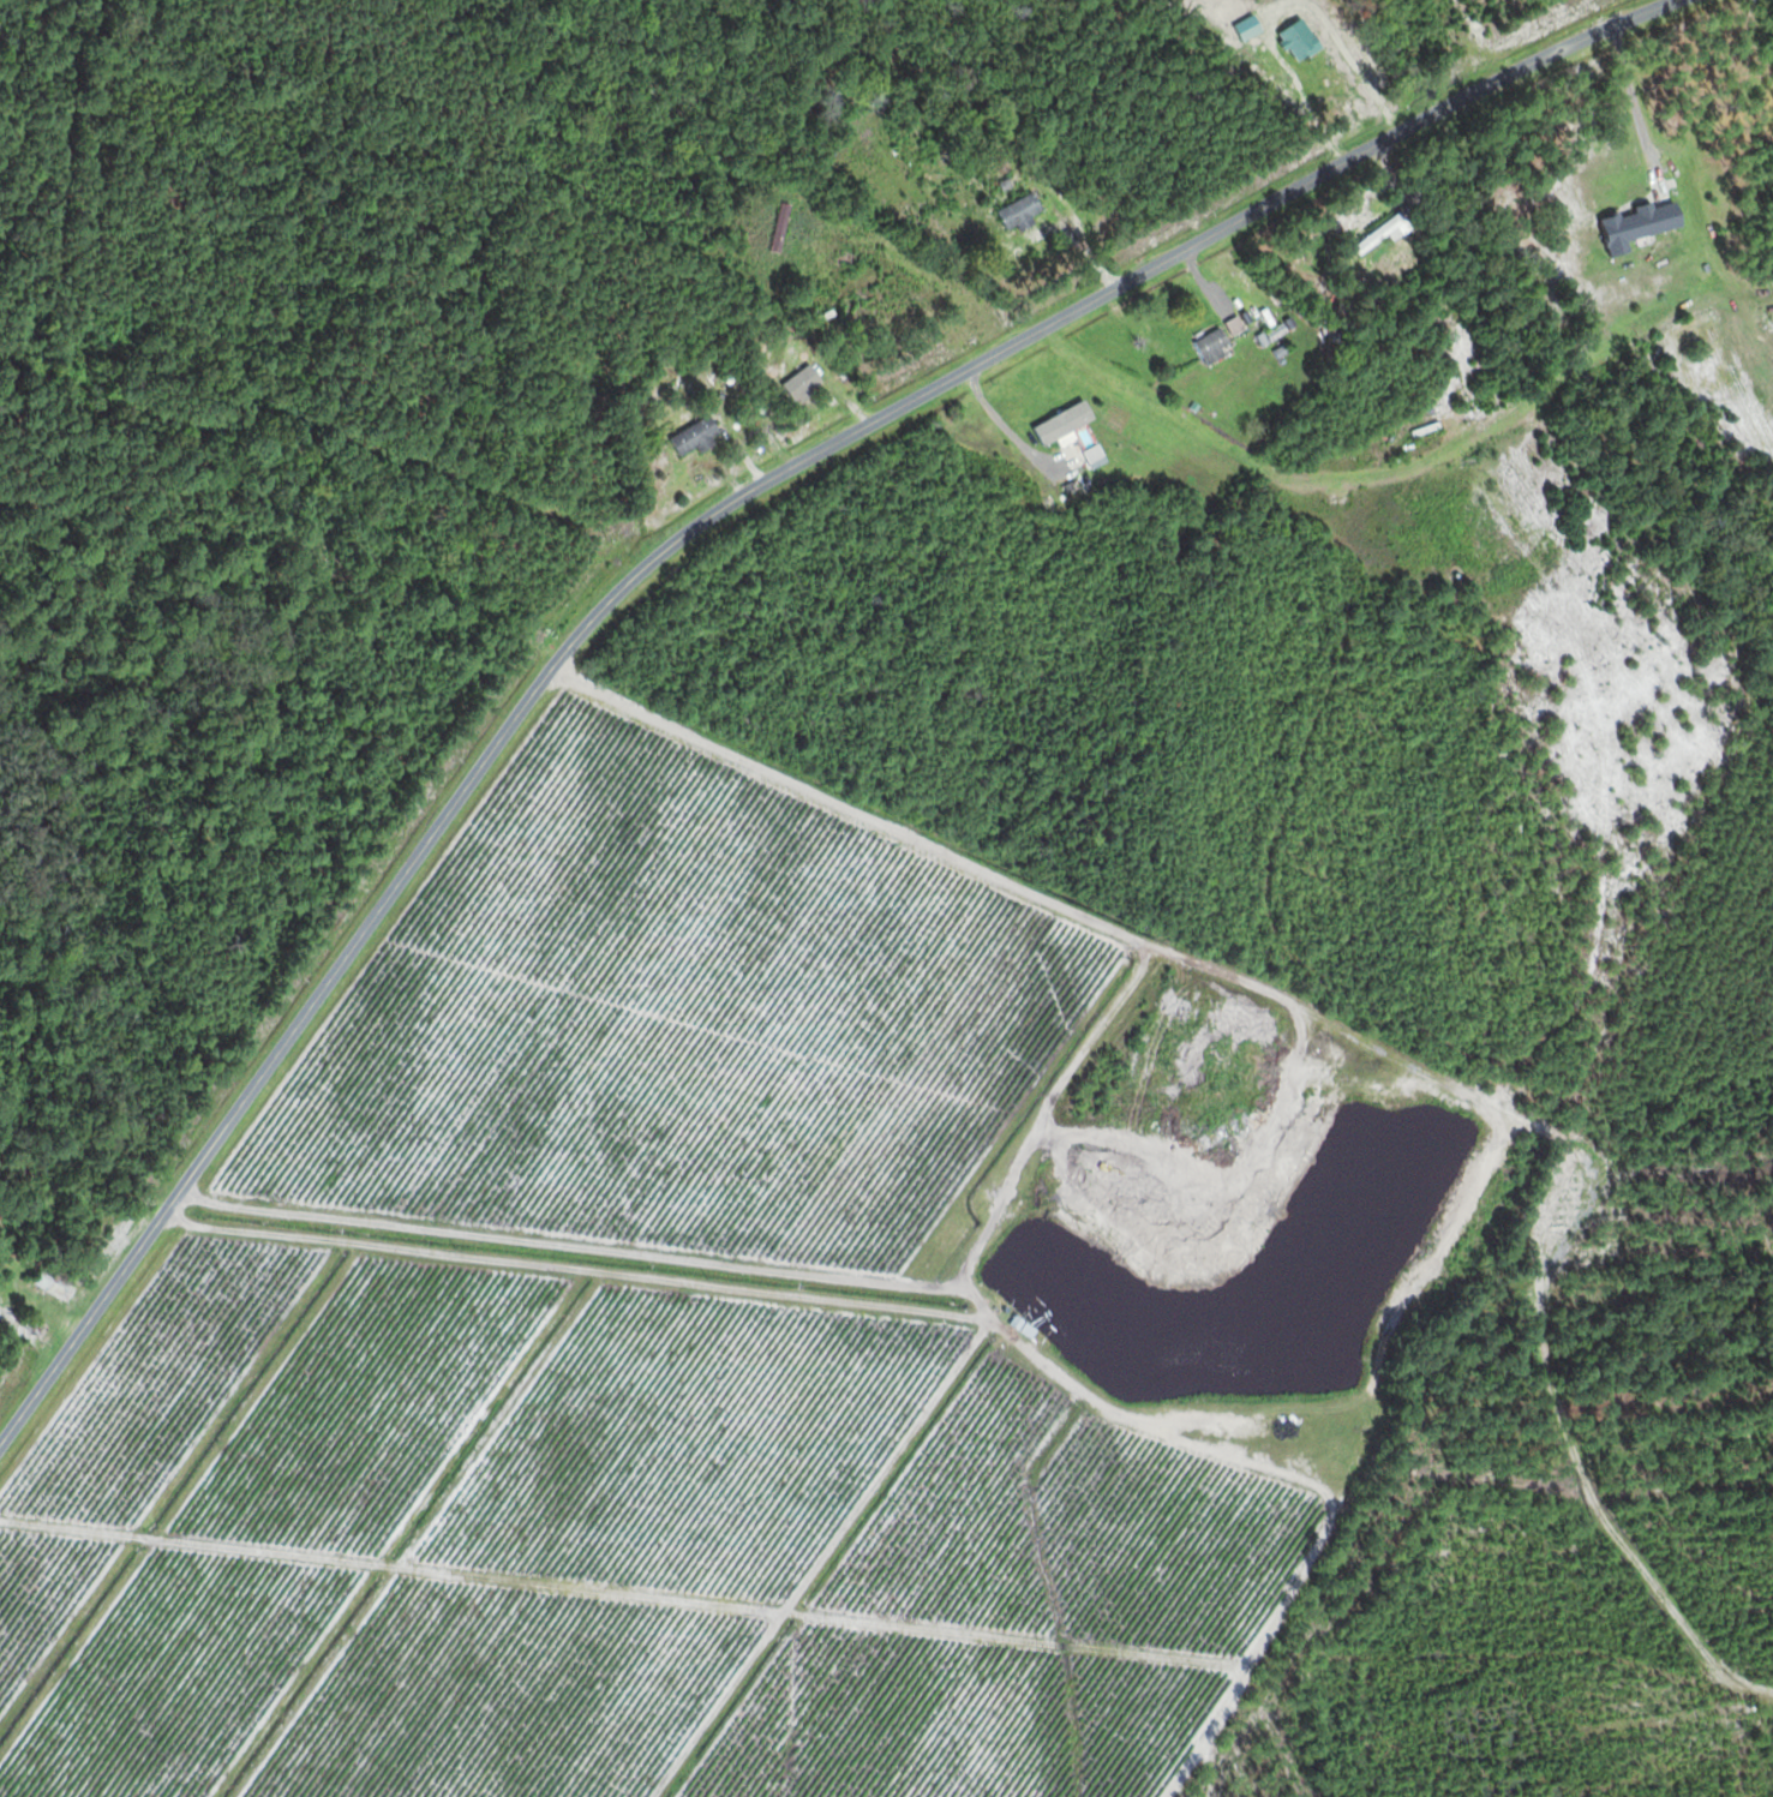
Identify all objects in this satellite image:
building: (1294, 38)
building: (1022, 208)
building: (1634, 223)
building: (780, 224)
building: (1380, 232)
building: (1209, 349)
building: (798, 387)
building: (690, 439)
road: (678, 541)
road: (312, 568)
building: (56, 1284)
building: (1019, 1330)

